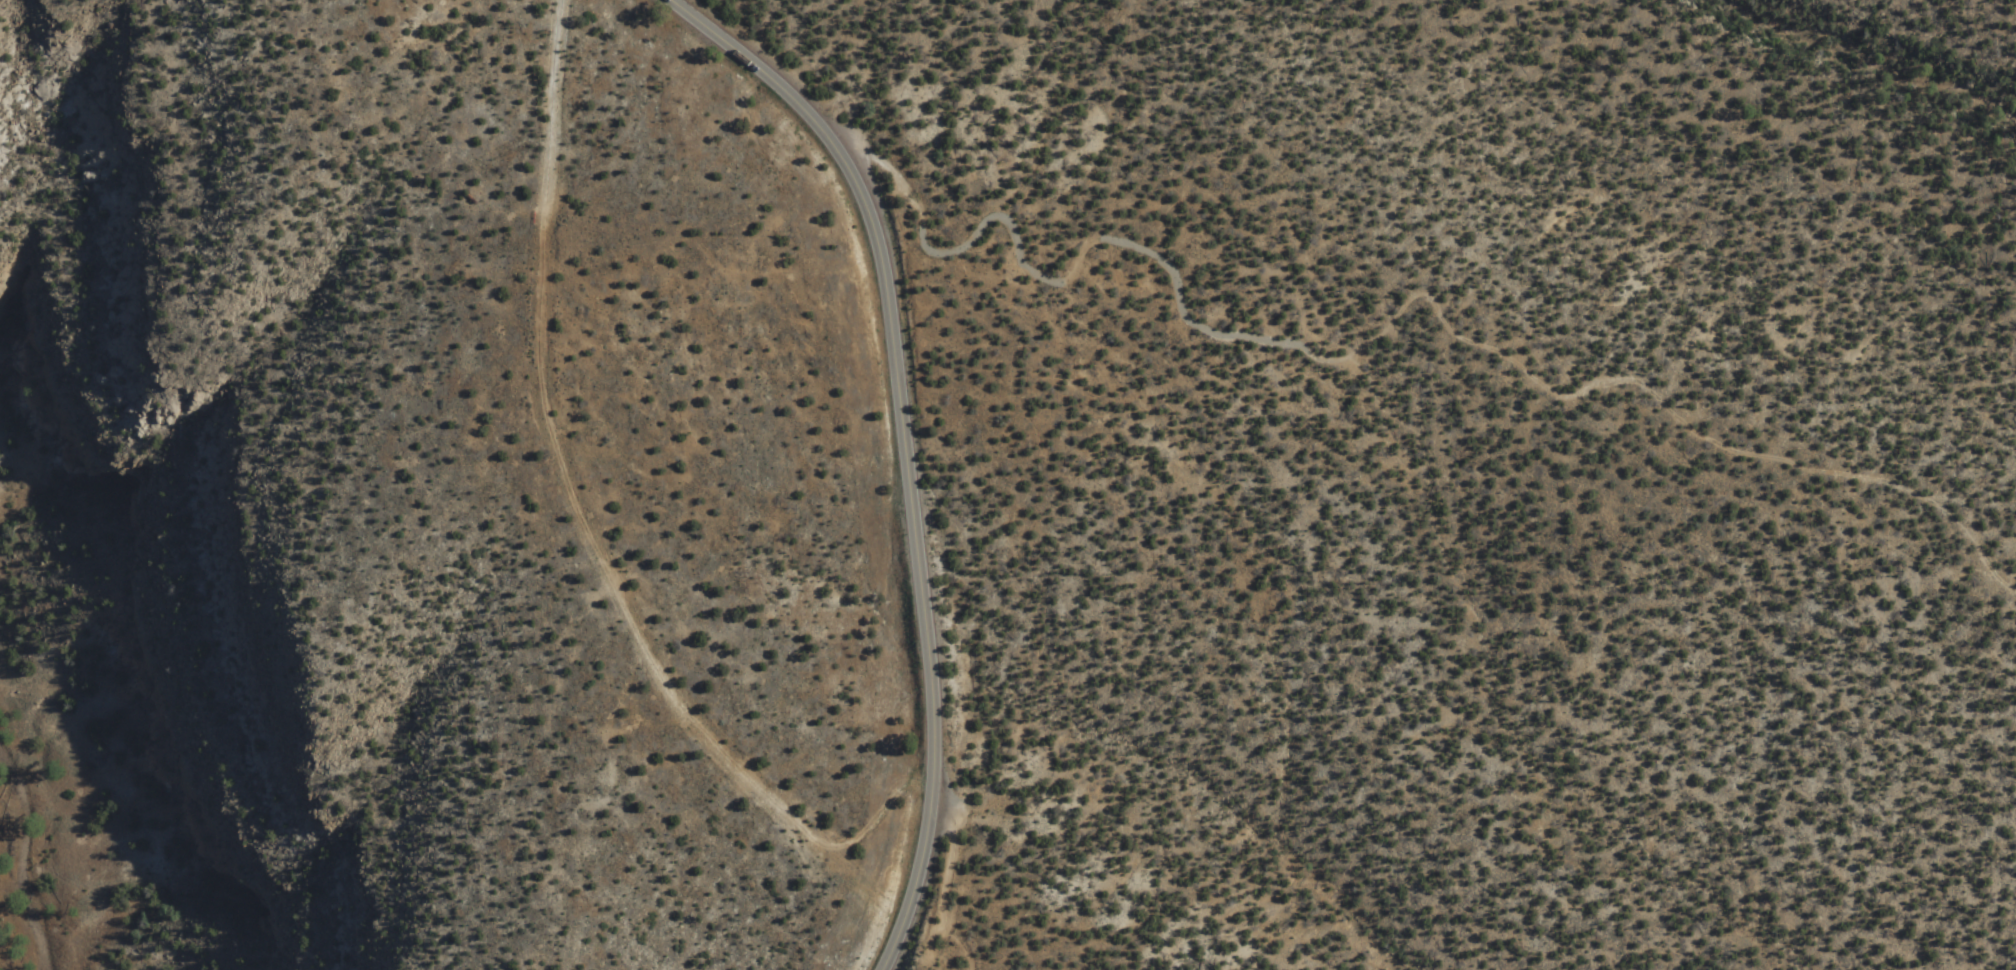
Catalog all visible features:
road: (1372, 339)
road: (905, 447)
road: (934, 945)

